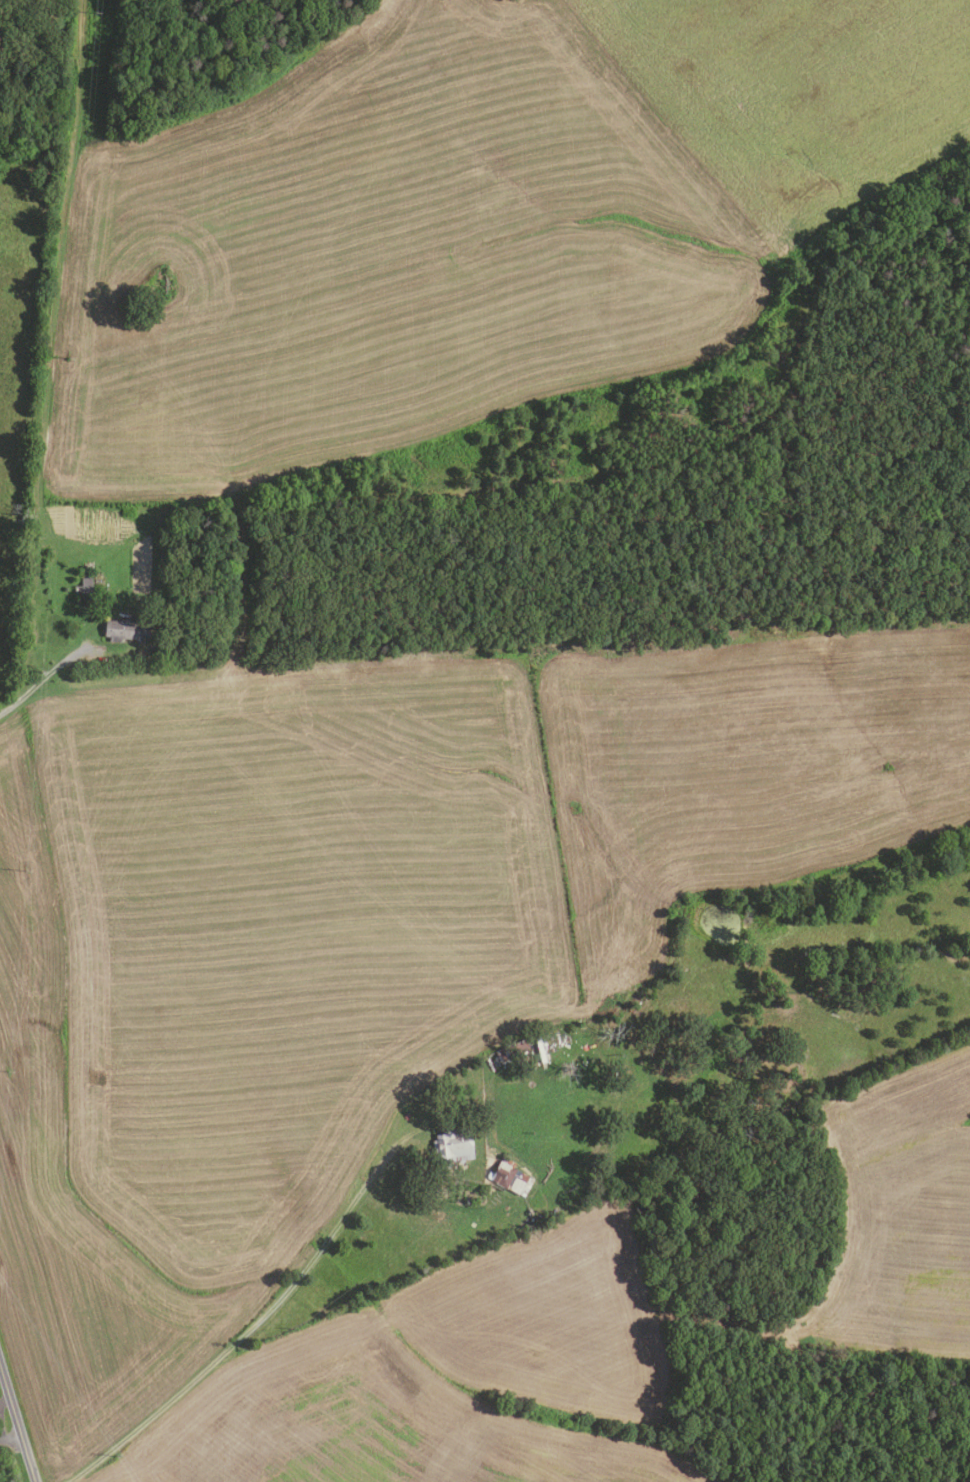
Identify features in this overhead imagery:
power tower: (96, 14)
road: (58, 248)
power tower: (69, 359)
building: (33, 535)
building: (164, 561)
building: (82, 587)
building: (124, 630)
power tower: (41, 671)
road: (40, 680)
power tower: (25, 871)
building: (511, 1050)
building: (494, 1062)
building: (569, 1068)
power tower: (10, 1070)
building: (406, 1116)
building: (449, 1147)
road: (381, 1162)
building: (508, 1177)
road: (321, 1247)
road: (201, 1372)
road: (4, 1400)
road: (17, 1424)
road: (1, 1435)
road: (10, 1439)
power tower: (117, 1456)

